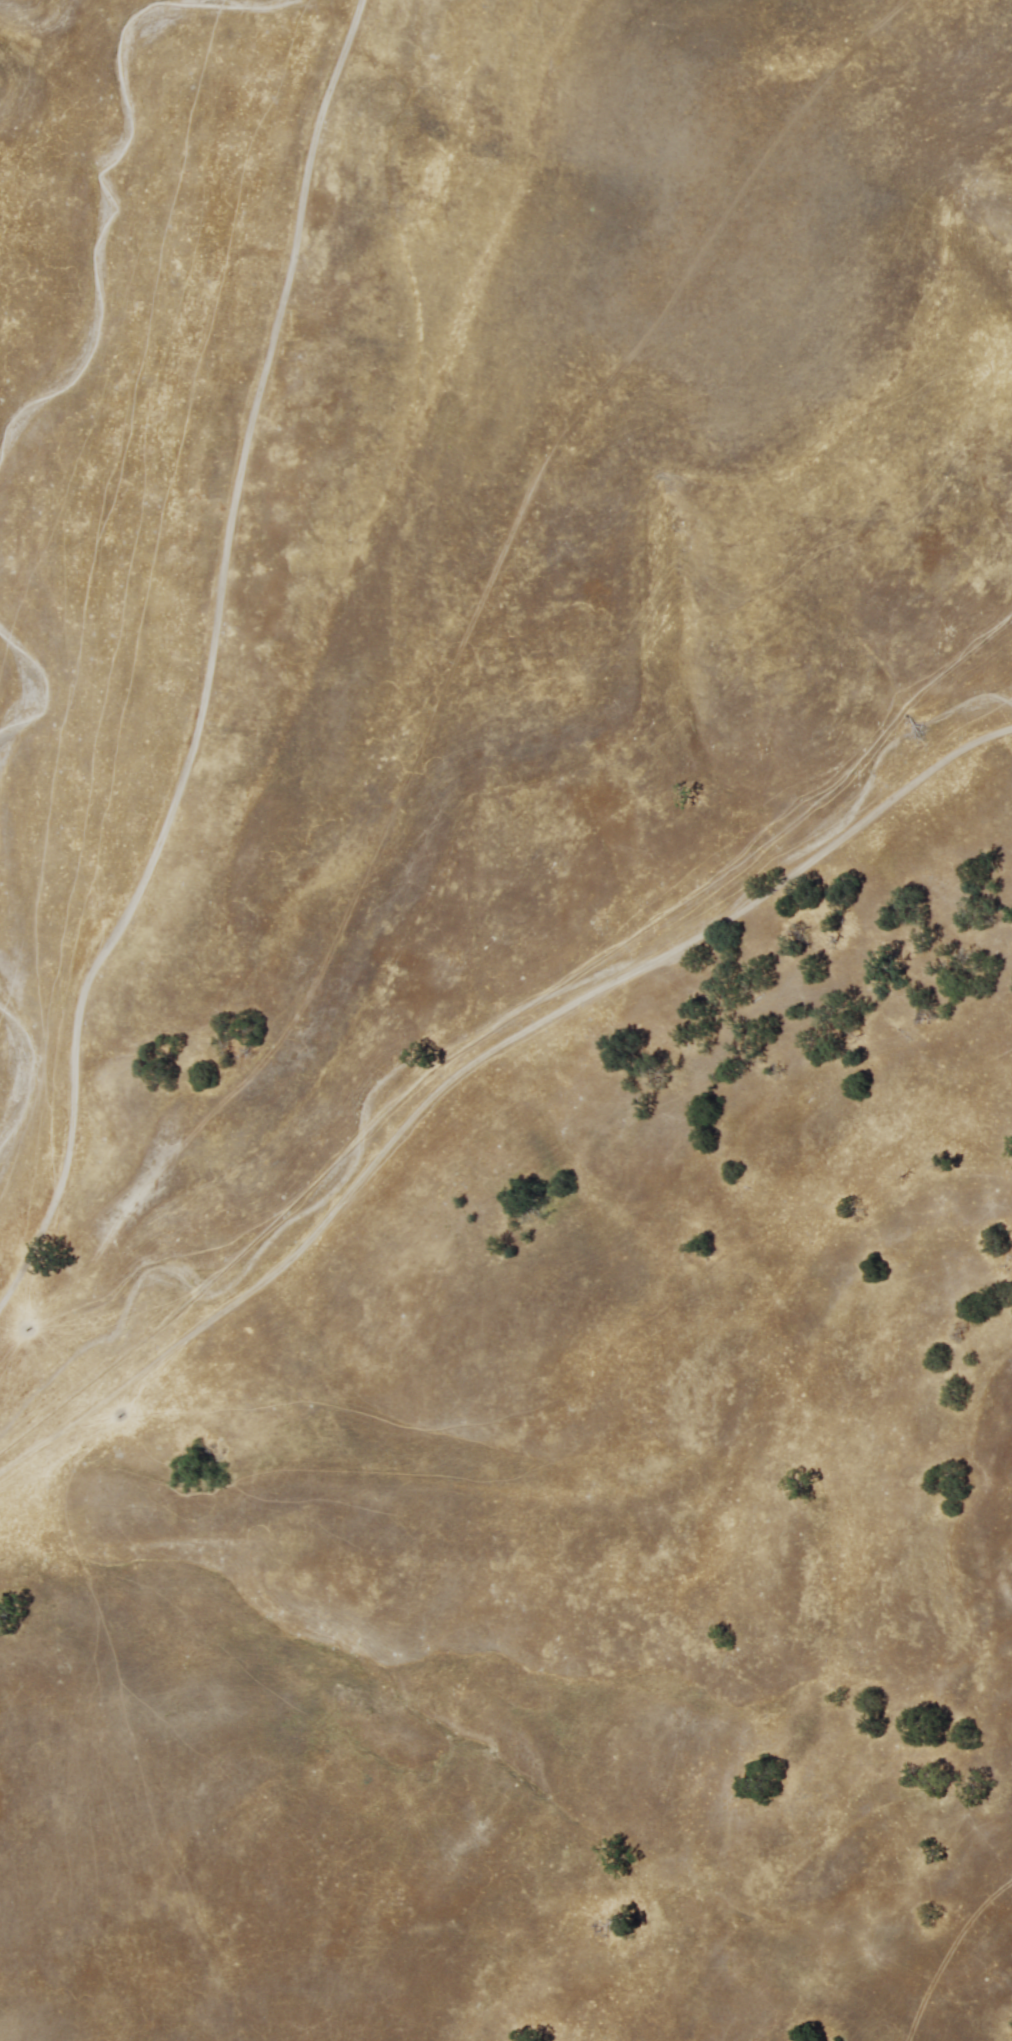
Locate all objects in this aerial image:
road: (207, 665)
road: (475, 1056)
road: (950, 1955)

